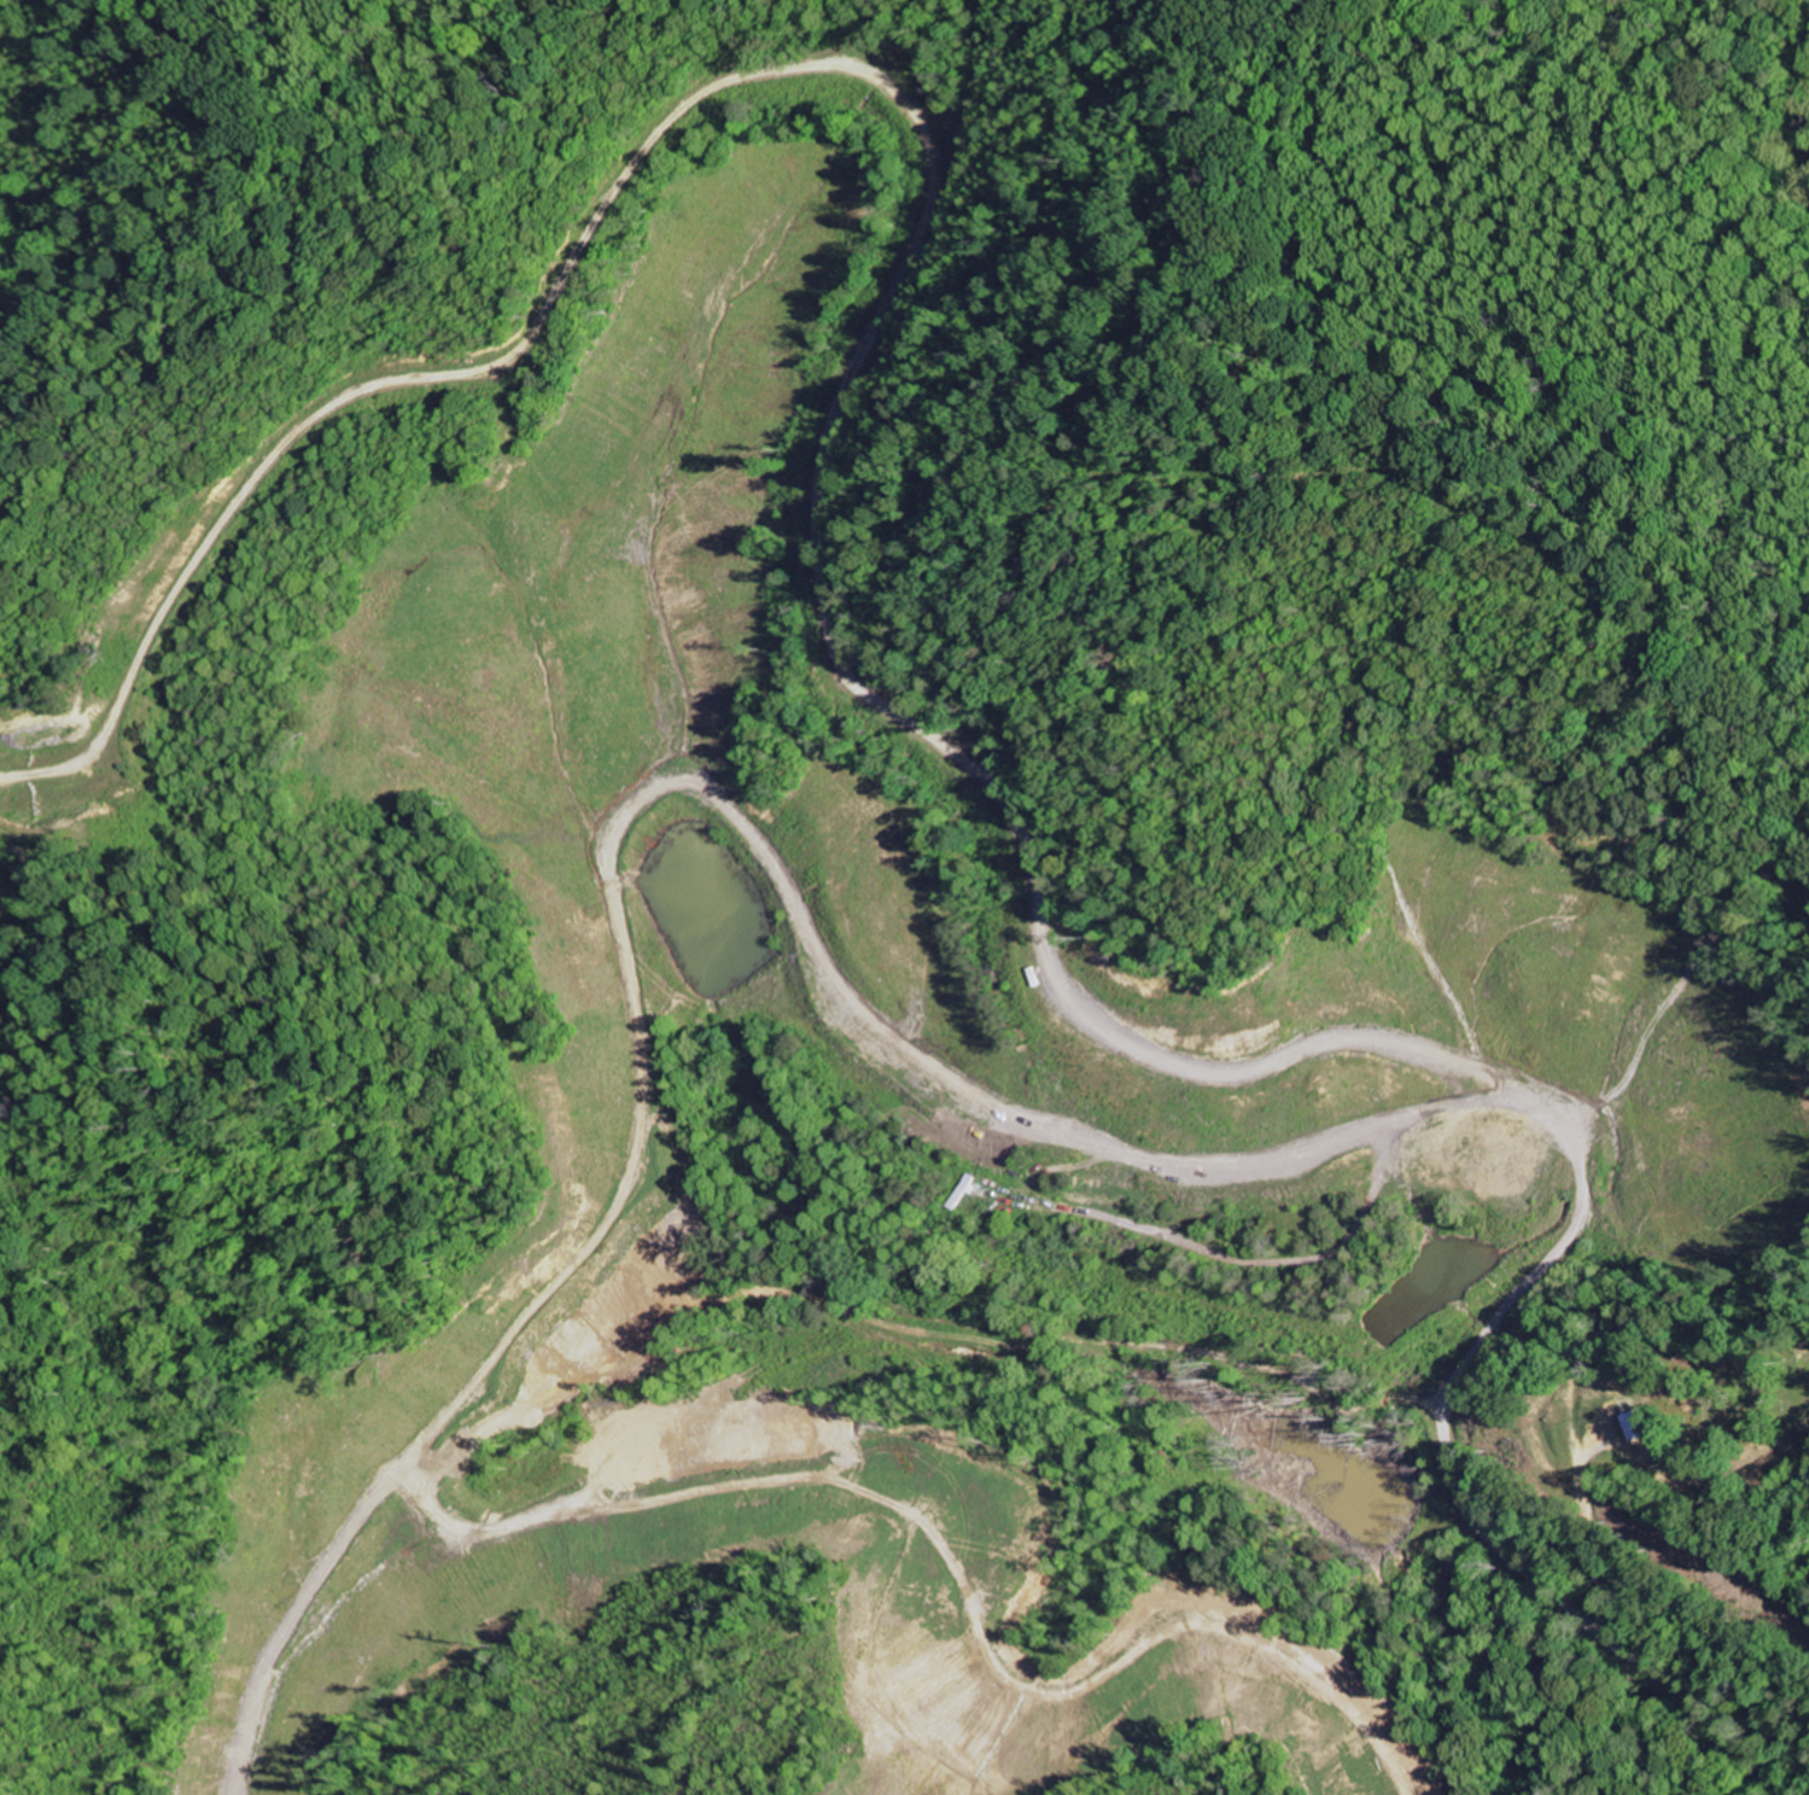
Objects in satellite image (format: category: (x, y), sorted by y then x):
park: (1728, 1410)
building: (1632, 1427)
road: (1607, 1636)

